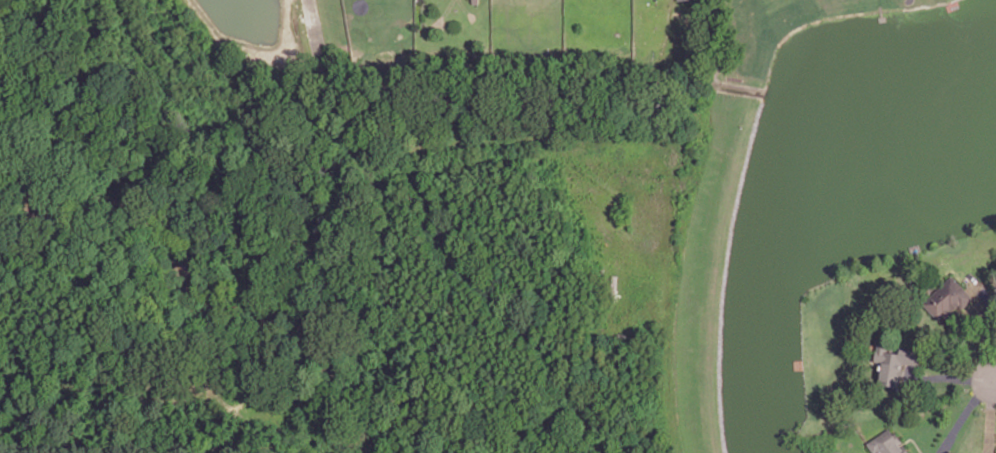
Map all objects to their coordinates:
pier: (953, 4)
pier: (882, 14)
road: (721, 62)
road: (384, 238)
building: (946, 294)
road: (986, 322)
building: (894, 361)
road: (951, 376)
road: (995, 378)
street lamp: (968, 387)
road: (964, 413)
road: (990, 415)
road: (914, 439)
road: (993, 441)
building: (888, 443)
building: (995, 449)
building: (838, 451)

